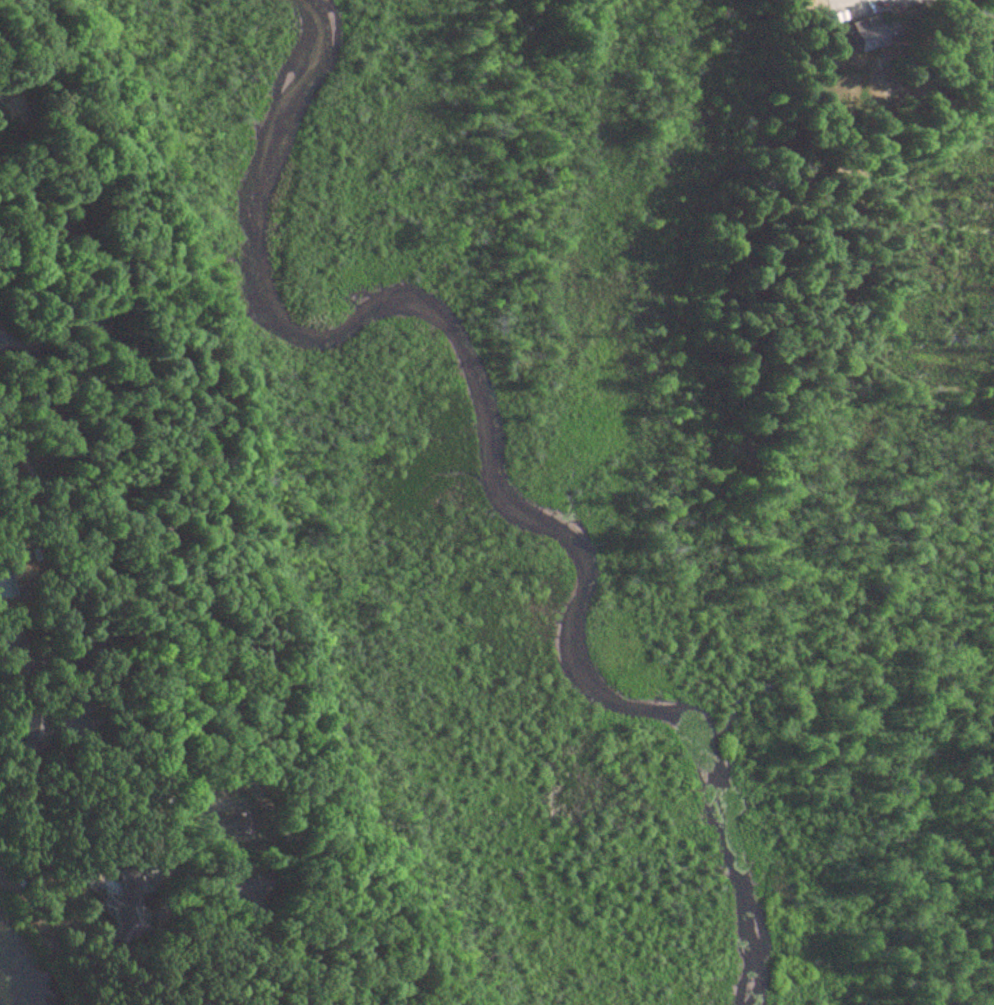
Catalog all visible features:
building: (864, 37)
road: (188, 630)
building: (16, 655)
building: (36, 723)
building: (246, 888)
building: (129, 905)

